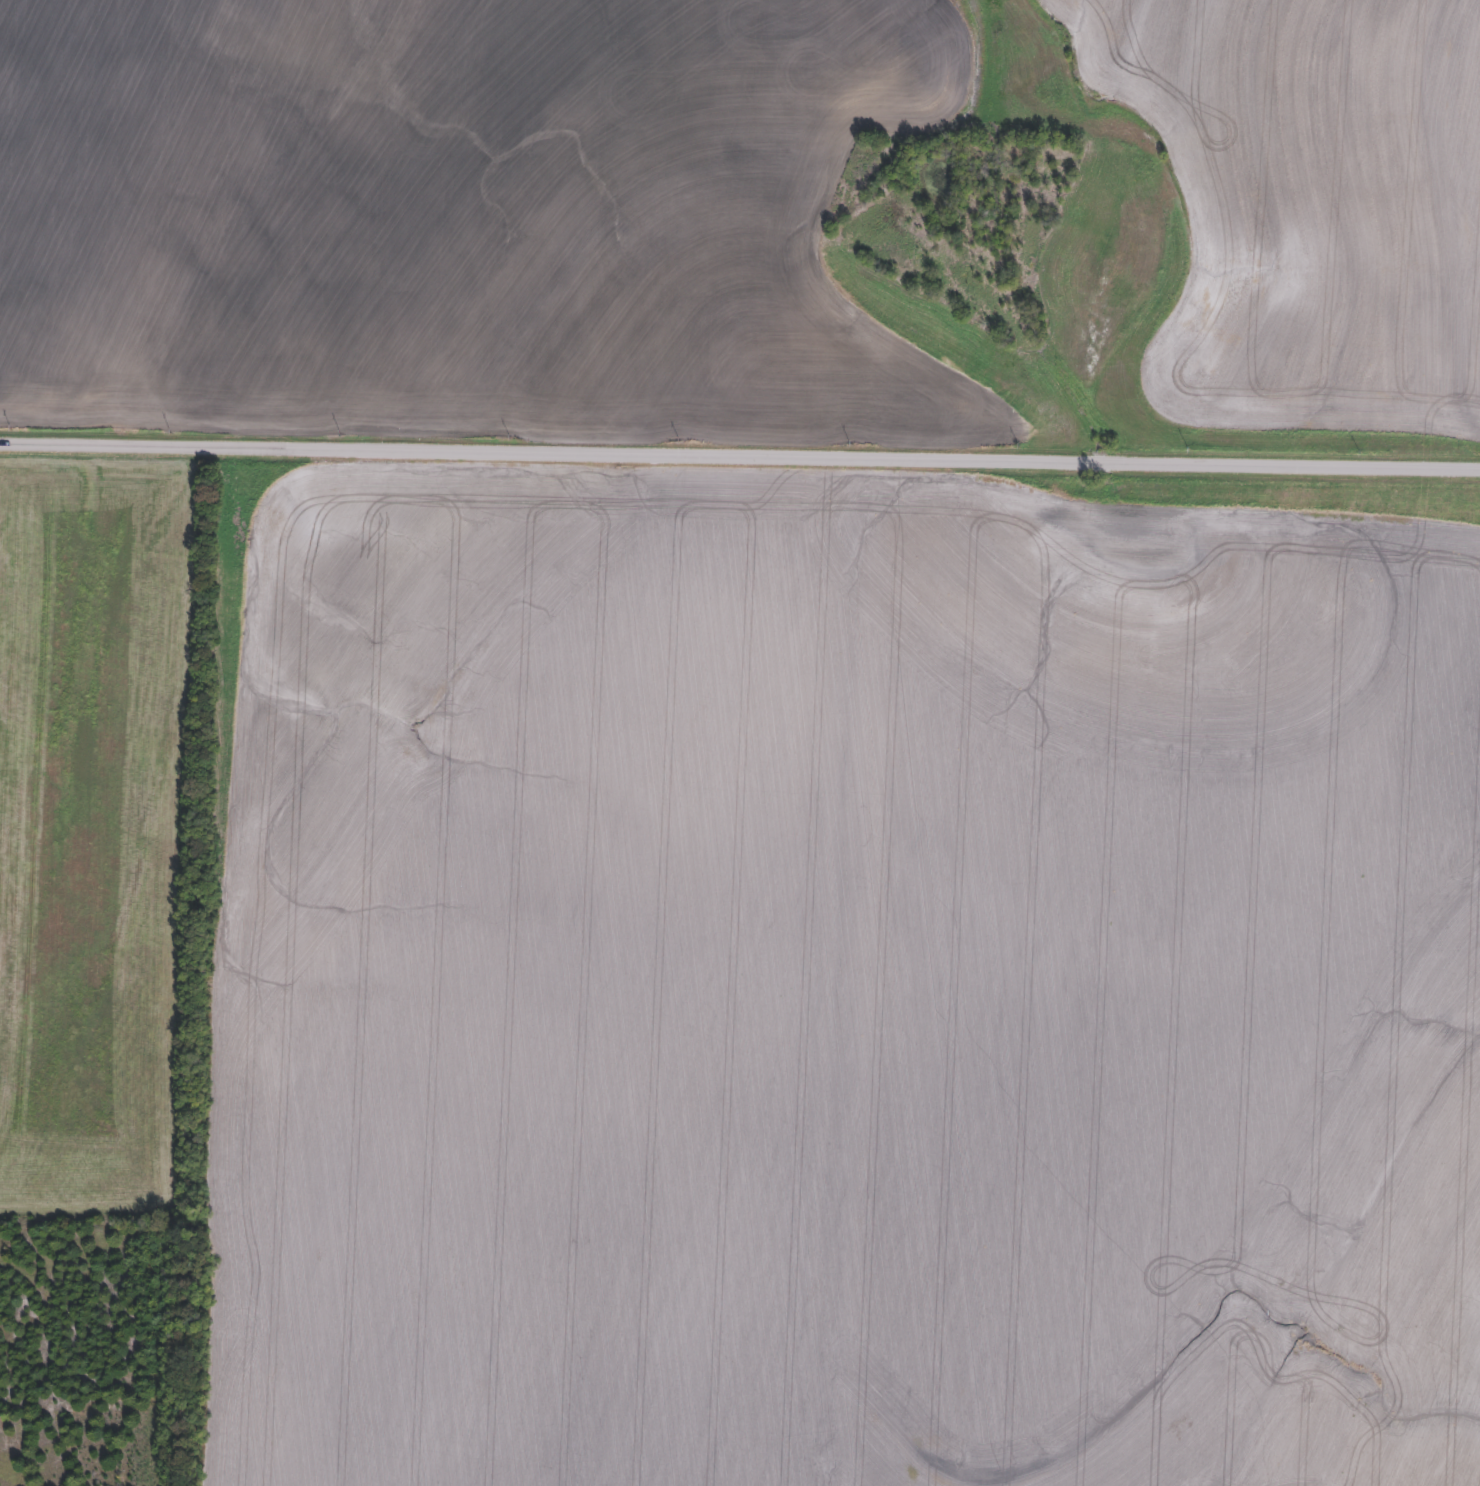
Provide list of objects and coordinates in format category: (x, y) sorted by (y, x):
road: (739, 453)

